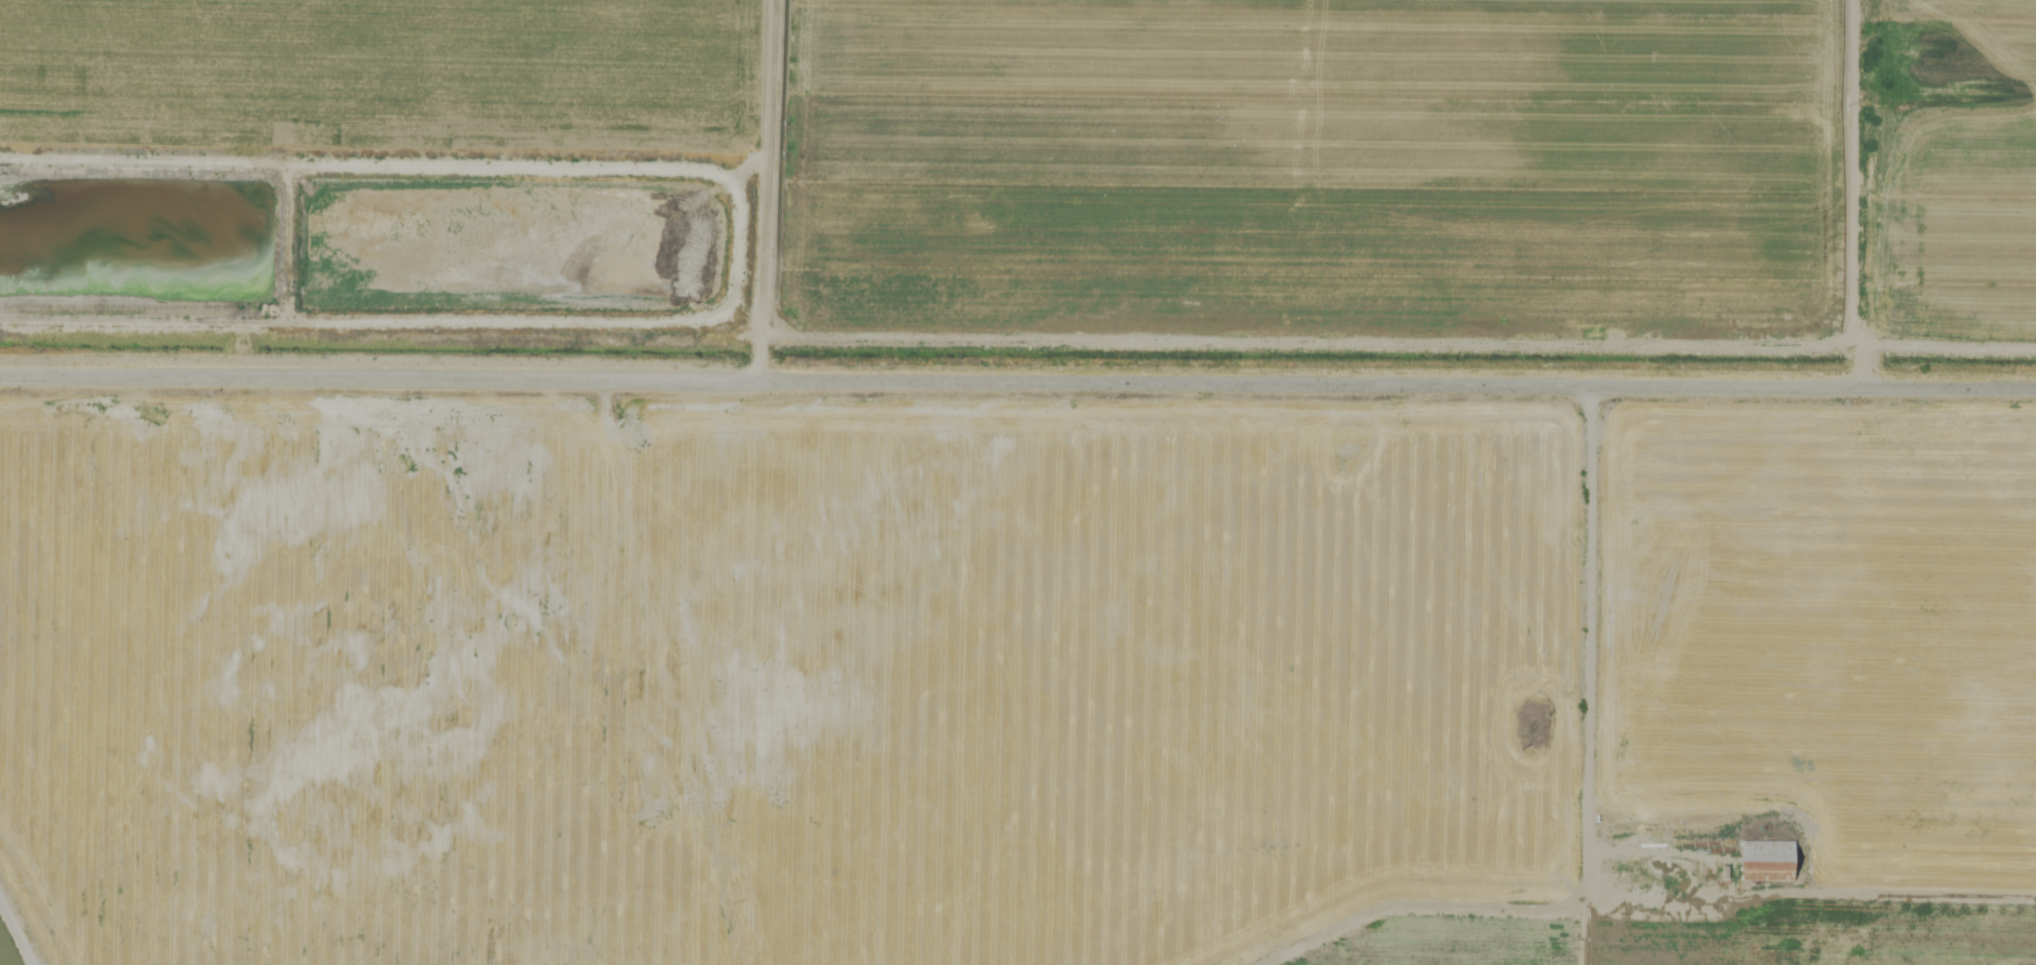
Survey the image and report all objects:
crop: (1346, 250)
road: (1017, 381)
road: (673, 671)
road: (1592, 673)
building: (1769, 862)
crop: (1431, 877)
road: (18, 929)
crop: (6, 952)

